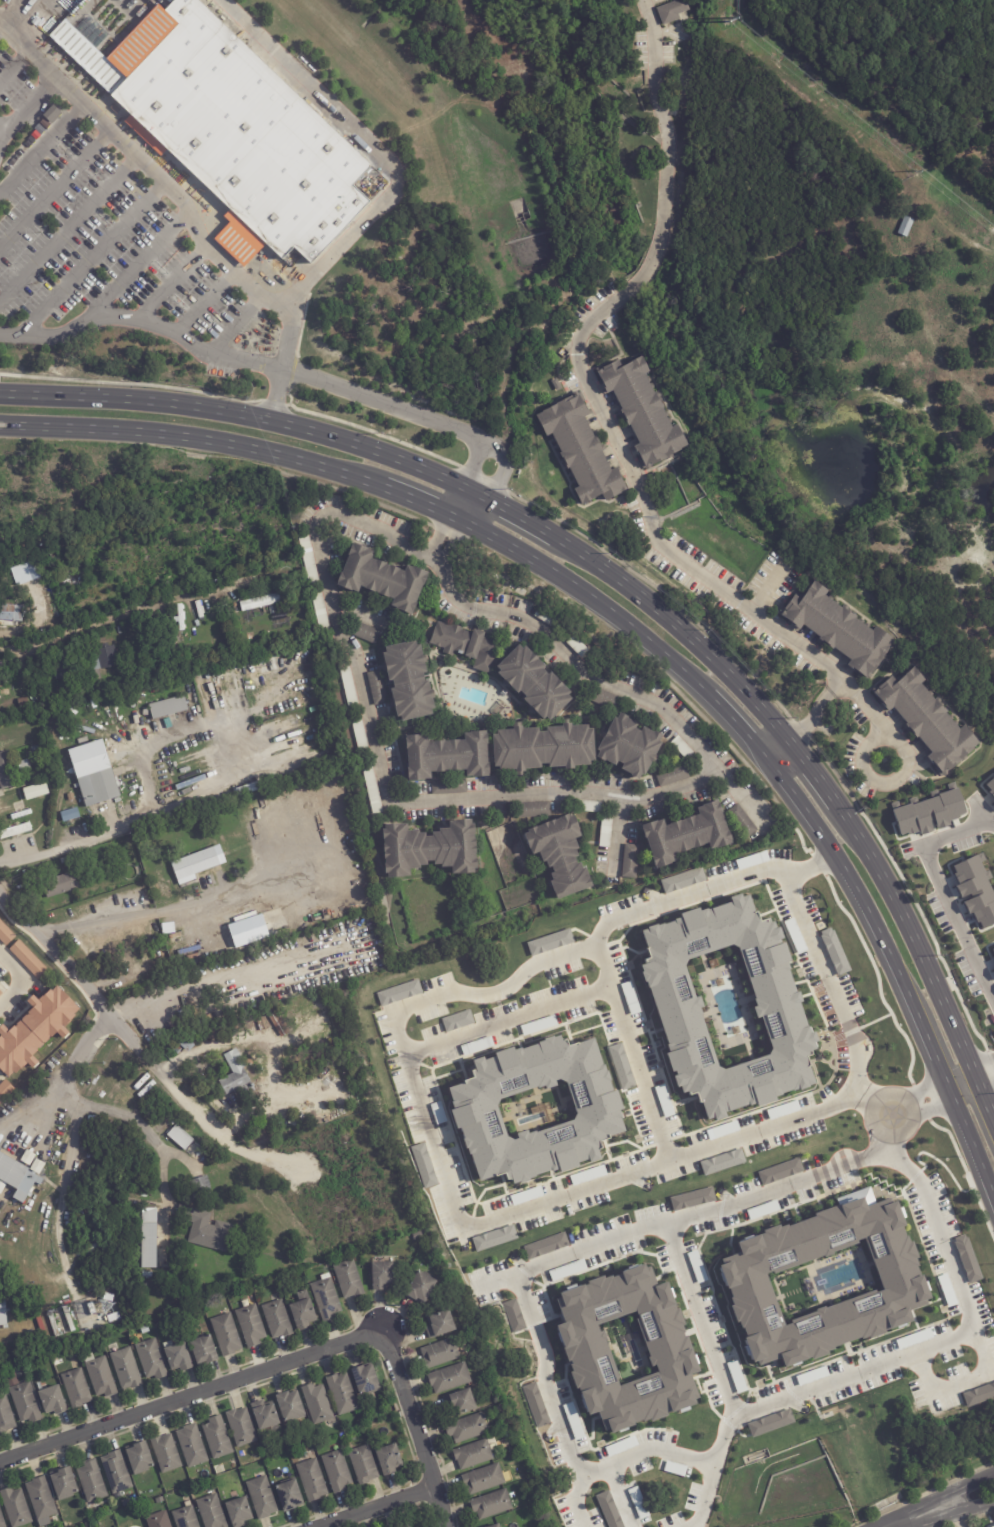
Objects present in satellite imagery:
road: (12, 11)
building: (673, 12)
power tower: (732, 17)
road: (0, 23)
road: (14, 64)
road: (25, 104)
building: (53, 114)
building: (224, 120)
building: (41, 126)
road: (1, 127)
building: (32, 135)
building: (28, 143)
road: (42, 146)
road: (370, 148)
building: (18, 152)
building: (13, 157)
building: (7, 167)
power tower: (916, 170)
road: (55, 186)
road: (183, 205)
parking lot: (85, 219)
road: (68, 226)
building: (907, 226)
road: (92, 255)
road: (138, 262)
road: (171, 281)
road: (202, 299)
road: (142, 320)
road: (235, 323)
building: (557, 385)
road: (384, 403)
road: (598, 404)
building: (645, 413)
road: (183, 435)
building: (583, 451)
road: (474, 463)
road: (500, 464)
road: (477, 484)
road: (410, 497)
road: (465, 504)
road: (482, 531)
road: (446, 539)
road: (426, 555)
building: (309, 560)
building: (75, 577)
road: (622, 580)
building: (20, 581)
building: (382, 581)
building: (6, 585)
road: (768, 588)
road: (461, 602)
building: (260, 603)
road: (606, 608)
road: (126, 613)
building: (321, 613)
building: (10, 618)
building: (840, 630)
building: (366, 633)
building: (507, 635)
building: (467, 646)
building: (103, 662)
building: (65, 668)
building: (411, 682)
building: (535, 684)
road: (838, 684)
building: (378, 689)
road: (620, 690)
building: (604, 699)
building: (169, 709)
road: (811, 715)
building: (923, 719)
road: (732, 722)
road: (227, 729)
building: (361, 736)
building: (629, 748)
building: (34, 749)
building: (544, 749)
building: (685, 750)
road: (778, 751)
road: (378, 754)
building: (37, 755)
building: (448, 757)
building: (39, 762)
building: (24, 767)
building: (7, 773)
building: (675, 777)
road: (884, 781)
road: (704, 785)
building: (450, 787)
building: (989, 788)
building: (99, 789)
building: (252, 789)
building: (35, 791)
road: (792, 796)
building: (71, 800)
building: (589, 808)
building: (534, 811)
building: (928, 812)
building: (110, 814)
building: (70, 816)
building: (743, 823)
building: (15, 831)
building: (607, 832)
building: (690, 834)
road: (77, 843)
building: (203, 847)
building: (211, 847)
building: (432, 850)
building: (562, 854)
building: (752, 860)
building: (64, 861)
building: (192, 863)
building: (631, 863)
road: (811, 866)
building: (29, 873)
building: (682, 880)
building: (162, 885)
building: (60, 886)
building: (974, 891)
road: (943, 897)
road: (669, 903)
road: (158, 910)
building: (5, 934)
building: (251, 938)
building: (548, 941)
building: (834, 951)
building: (992, 952)
road: (887, 953)
building: (219, 955)
building: (27, 959)
building: (121, 963)
building: (993, 970)
road: (230, 977)
road: (14, 979)
building: (397, 992)
building: (0, 993)
building: (727, 1007)
building: (455, 1020)
building: (278, 1022)
building: (35, 1030)
building: (181, 1045)
road: (139, 1046)
road: (419, 1049)
road: (984, 1065)
building: (327, 1067)
building: (622, 1068)
building: (237, 1078)
road: (987, 1083)
building: (5, 1090)
road: (920, 1091)
road: (947, 1091)
road: (889, 1098)
road: (865, 1103)
road: (32, 1107)
road: (930, 1108)
building: (535, 1109)
building: (782, 1110)
road: (763, 1130)
road: (144, 1131)
building: (179, 1137)
road: (70, 1144)
road: (884, 1144)
road: (972, 1151)
road: (666, 1152)
building: (721, 1161)
building: (423, 1165)
building: (778, 1170)
building: (20, 1174)
building: (587, 1175)
building: (201, 1189)
building: (690, 1198)
building: (537, 1220)
building: (206, 1229)
building: (491, 1237)
building: (149, 1240)
building: (543, 1245)
road: (594, 1248)
building: (92, 1249)
building: (965, 1258)
building: (696, 1267)
building: (384, 1276)
building: (345, 1278)
building: (2, 1279)
building: (823, 1281)
building: (91, 1287)
building: (421, 1288)
building: (323, 1296)
building: (92, 1309)
building: (82, 1310)
building: (300, 1310)
building: (3, 1314)
building: (513, 1316)
building: (275, 1317)
building: (69, 1319)
building: (249, 1324)
building: (54, 1325)
building: (441, 1325)
building: (145, 1330)
building: (223, 1334)
road: (955, 1339)
road: (711, 1347)
building: (200, 1349)
building: (626, 1349)
building: (441, 1354)
building: (176, 1355)
building: (150, 1357)
road: (289, 1361)
building: (124, 1367)
building: (97, 1374)
building: (361, 1378)
building: (450, 1379)
road: (960, 1383)
building: (73, 1387)
building: (339, 1392)
building: (978, 1395)
building: (53, 1401)
building: (25, 1404)
building: (318, 1404)
building: (464, 1404)
building: (535, 1405)
building: (291, 1407)
building: (6, 1417)
building: (267, 1418)
building: (770, 1423)
building: (242, 1427)
building: (468, 1429)
building: (217, 1439)
building: (192, 1447)
building: (167, 1454)
building: (474, 1455)
building: (137, 1456)
road: (675, 1457)
building: (386, 1458)
building: (360, 1463)
building: (334, 1469)
building: (113, 1471)
building: (89, 1479)
building: (309, 1479)
building: (484, 1480)
road: (969, 1482)
building: (65, 1485)
building: (286, 1494)
building: (259, 1497)
road: (620, 1498)
building: (42, 1500)
building: (638, 1503)
road: (573, 1504)
road: (371, 1505)
building: (492, 1505)
building: (16, 1508)
road: (974, 1508)
building: (609, 1509)
building: (236, 1511)
building: (211, 1512)
road: (923, 1515)
road: (958, 1515)
building: (183, 1516)
building: (2, 1520)
building: (158, 1520)
building: (495, 1526)
building: (497, 1526)
building: (992, 1526)

